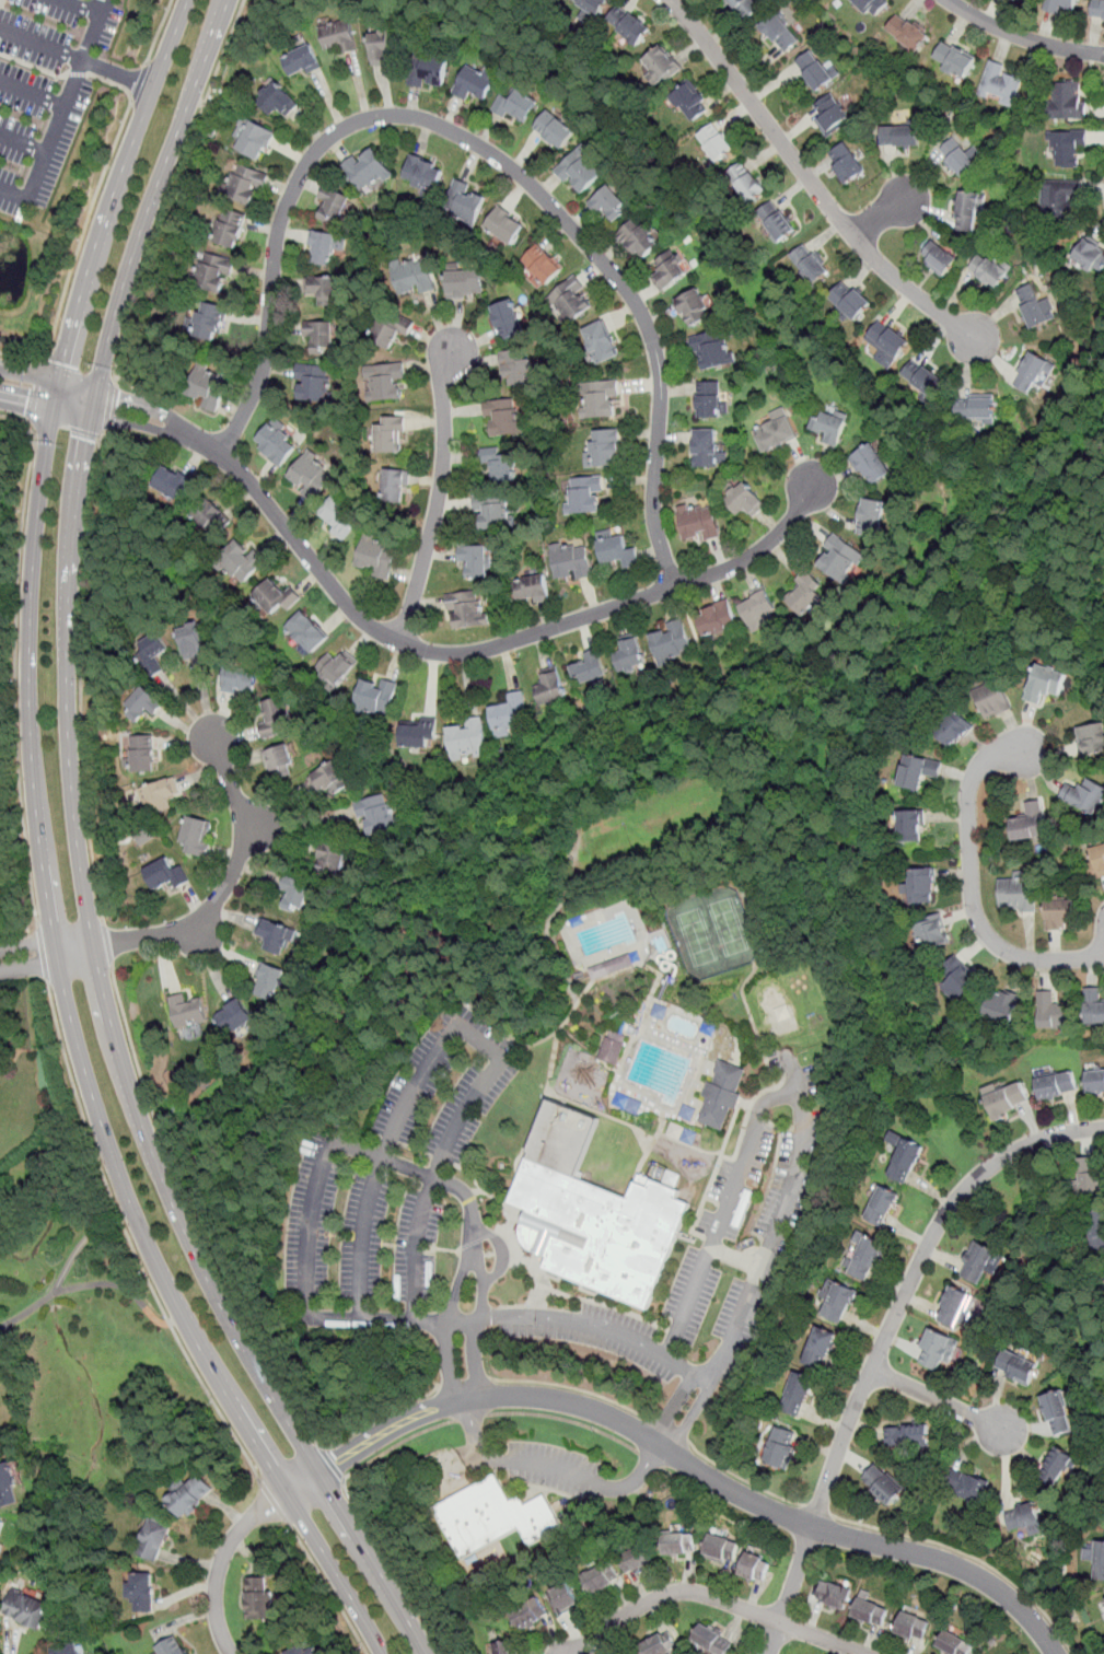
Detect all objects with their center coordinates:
building: (1062, 3)
building: (591, 5)
building: (746, 7)
building: (871, 7)
road: (79, 8)
building: (1096, 9)
building: (629, 26)
road: (158, 32)
building: (780, 33)
building: (907, 33)
building: (339, 35)
road: (1023, 37)
building: (384, 45)
road: (42, 46)
building: (302, 61)
building: (952, 61)
building: (662, 65)
building: (428, 69)
building: (814, 71)
road: (117, 74)
road: (137, 82)
building: (475, 83)
building: (1001, 84)
parking lot: (46, 90)
road: (32, 94)
building: (277, 100)
building: (1067, 100)
building: (690, 102)
building: (514, 105)
road: (61, 113)
building: (830, 115)
building: (555, 129)
building: (899, 136)
building: (254, 140)
building: (714, 142)
road: (22, 143)
building: (1066, 147)
road: (481, 148)
building: (957, 156)
building: (847, 163)
building: (582, 167)
building: (368, 168)
building: (423, 172)
road: (811, 179)
building: (746, 182)
building: (244, 185)
road: (170, 187)
building: (1059, 197)
building: (466, 201)
road: (92, 203)
building: (334, 206)
building: (609, 206)
building: (967, 209)
road: (886, 214)
building: (777, 221)
building: (505, 226)
building: (228, 229)
building: (637, 238)
building: (323, 247)
building: (1090, 256)
building: (938, 259)
building: (811, 264)
building: (541, 266)
building: (670, 270)
building: (987, 270)
building: (213, 273)
building: (411, 278)
building: (466, 284)
building: (322, 290)
building: (572, 301)
building: (852, 304)
building: (1034, 306)
building: (694, 308)
building: (508, 319)
building: (209, 323)
building: (394, 333)
building: (321, 336)
building: (886, 340)
building: (601, 342)
building: (711, 350)
road: (22, 358)
traffic signals: (65, 365)
building: (518, 368)
building: (1031, 373)
road: (75, 374)
building: (922, 377)
building: (314, 382)
building: (386, 383)
building: (209, 388)
traffic signals: (28, 392)
road: (34, 393)
road: (45, 395)
traffic signals: (58, 398)
building: (601, 398)
building: (709, 398)
road: (109, 406)
traffic signals: (116, 409)
building: (975, 410)
building: (504, 416)
building: (828, 424)
road: (65, 426)
building: (776, 431)
building: (390, 435)
traffic signals: (86, 439)
building: (277, 443)
building: (603, 447)
building: (708, 449)
building: (870, 462)
building: (498, 464)
building: (312, 475)
building: (172, 481)
building: (394, 486)
road: (439, 493)
building: (585, 494)
building: (746, 502)
building: (492, 511)
building: (210, 516)
building: (870, 516)
building: (339, 517)
building: (699, 523)
building: (617, 552)
building: (376, 556)
building: (839, 559)
building: (475, 561)
building: (242, 563)
building: (571, 564)
building: (531, 590)
building: (803, 593)
building: (276, 594)
building: (466, 608)
building: (757, 609)
building: (714, 617)
building: (309, 632)
road: (688, 638)
building: (191, 639)
building: (669, 642)
building: (154, 652)
road: (437, 652)
building: (629, 653)
road: (15, 657)
building: (336, 668)
building: (590, 668)
road: (80, 676)
building: (239, 680)
building: (1046, 684)
building: (550, 687)
building: (375, 695)
building: (993, 700)
building: (144, 704)
building: (509, 712)
building: (275, 717)
road: (579, 724)
building: (420, 731)
building: (957, 731)
building: (466, 738)
building: (1091, 738)
road: (68, 748)
building: (143, 754)
road: (31, 759)
building: (281, 761)
building: (920, 772)
building: (328, 779)
building: (159, 794)
building: (1084, 795)
building: (376, 815)
building: (1030, 824)
road: (304, 825)
building: (911, 826)
building: (196, 836)
building: (330, 859)
building: (1097, 859)
building: (165, 873)
building: (922, 885)
road: (223, 888)
road: (972, 888)
building: (1018, 893)
building: (295, 895)
building: (1059, 913)
park: (713, 929)
building: (931, 932)
building: (275, 936)
road: (106, 942)
road: (28, 944)
road: (42, 954)
building: (612, 966)
road: (31, 968)
road: (415, 974)
building: (267, 980)
building: (956, 980)
building: (1093, 1005)
building: (999, 1006)
building: (186, 1012)
building: (783, 1012)
building: (1050, 1012)
building: (0, 1015)
building: (234, 1017)
road: (465, 1028)
building: (614, 1047)
building: (667, 1056)
building: (729, 1074)
building: (1095, 1081)
building: (1057, 1085)
building: (1007, 1099)
building: (718, 1104)
road: (179, 1127)
building: (905, 1156)
road: (432, 1175)
building: (1090, 1176)
building: (883, 1204)
road: (724, 1213)
road: (194, 1214)
building: (602, 1215)
road: (776, 1219)
road: (312, 1227)
building: (1093, 1232)
road: (130, 1243)
road: (501, 1249)
road: (735, 1257)
building: (867, 1257)
building: (978, 1262)
road: (910, 1281)
road: (57, 1285)
road: (125, 1288)
road: (458, 1288)
building: (840, 1303)
building: (953, 1307)
road: (377, 1317)
road: (464, 1318)
road: (576, 1321)
park: (78, 1326)
road: (476, 1330)
building: (820, 1347)
building: (936, 1351)
road: (446, 1363)
road: (684, 1366)
building: (1016, 1366)
road: (465, 1382)
road: (572, 1387)
building: (799, 1393)
road: (939, 1398)
road: (569, 1402)
road: (674, 1406)
building: (1057, 1411)
road: (380, 1416)
road: (470, 1417)
road: (692, 1418)
road: (566, 1419)
road: (667, 1430)
road: (393, 1431)
building: (908, 1434)
building: (781, 1448)
road: (333, 1464)
building: (1056, 1465)
road: (554, 1466)
road: (742, 1478)
road: (303, 1480)
building: (883, 1483)
building: (8, 1486)
building: (971, 1487)
building: (187, 1495)
road: (275, 1502)
road: (817, 1509)
road: (360, 1513)
building: (500, 1517)
building: (1022, 1517)
building: (1, 1525)
building: (154, 1538)
road: (868, 1540)
building: (678, 1544)
building: (721, 1548)
road: (969, 1557)
building: (1095, 1558)
building: (637, 1559)
road: (221, 1560)
road: (373, 1561)
building: (754, 1568)
road: (335, 1572)
building: (602, 1577)
road: (328, 1586)
road: (790, 1589)
building: (143, 1593)
building: (834, 1595)
building: (262, 1597)
road: (716, 1597)
building: (565, 1599)
building: (25, 1609)
building: (871, 1612)
building: (530, 1616)
building: (913, 1627)
building: (712, 1639)
building: (660, 1643)
building: (955, 1643)
building: (172, 1647)
building: (504, 1647)
building: (65, 1649)
building: (304, 1649)

